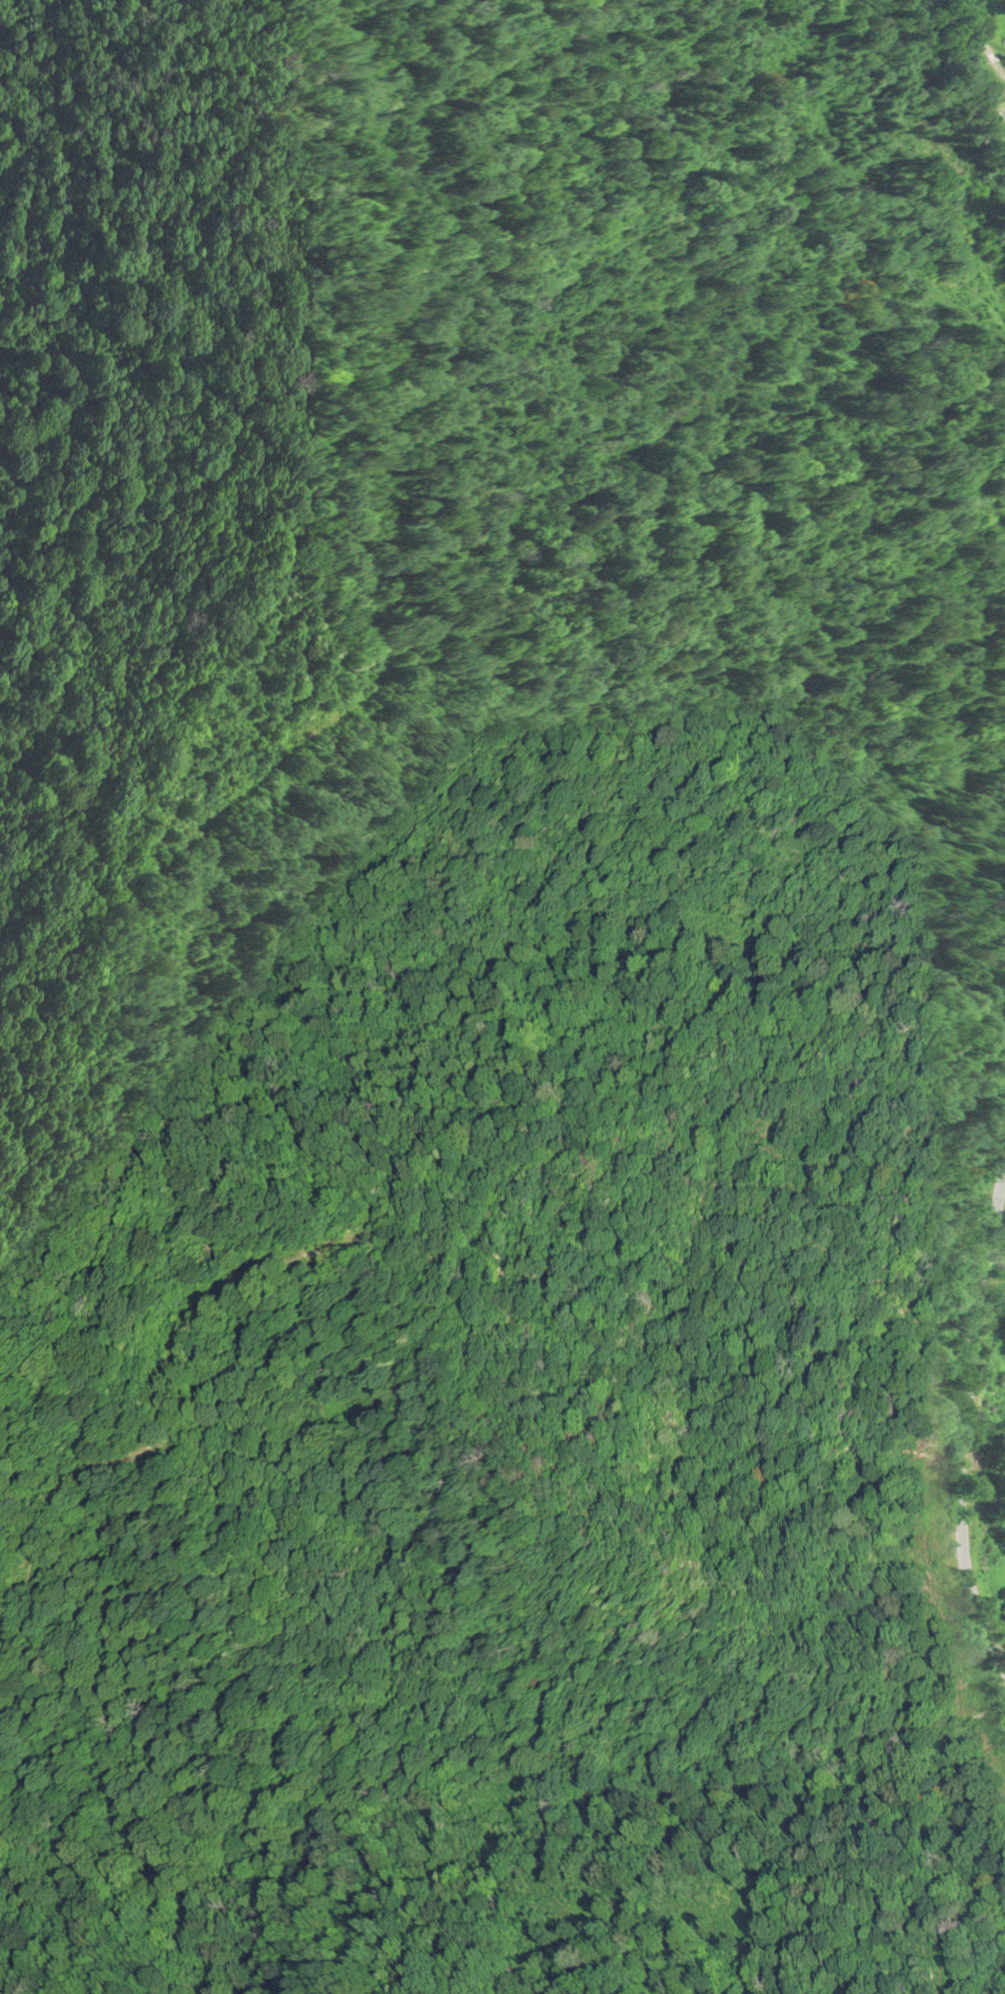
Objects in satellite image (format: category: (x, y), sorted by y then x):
road: (967, 91)
building: (1001, 111)
road: (912, 1417)

